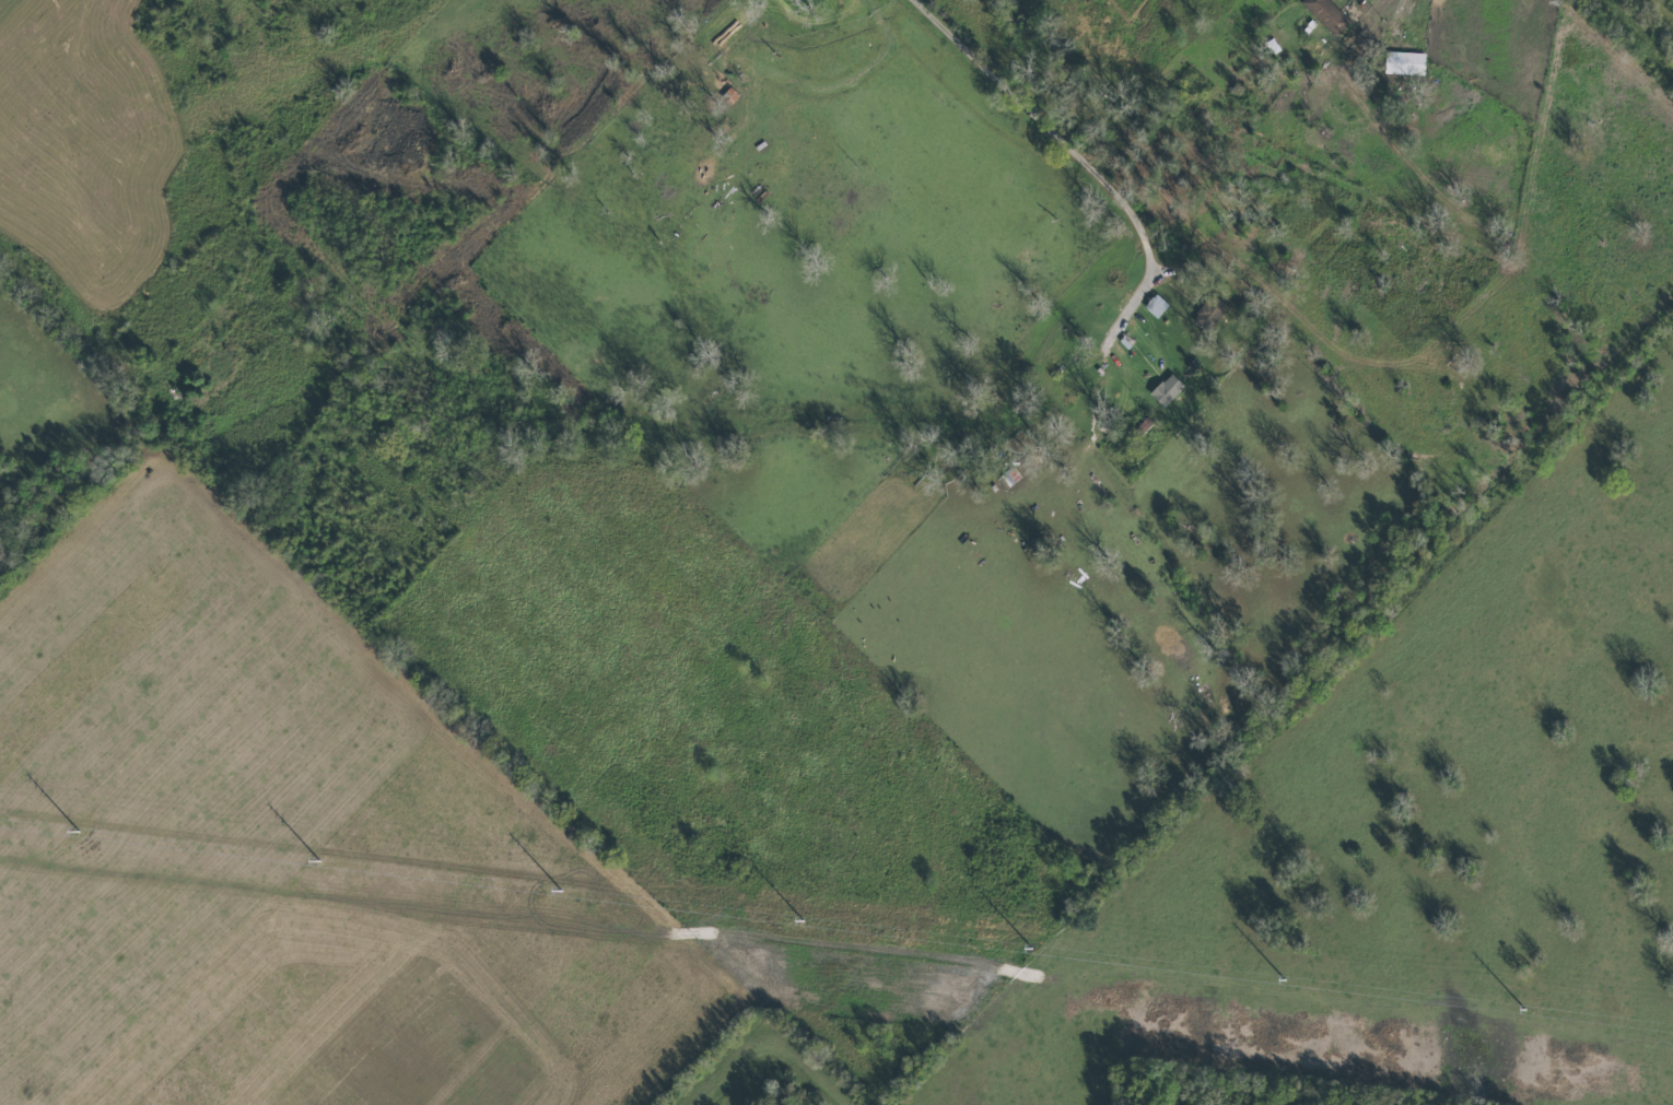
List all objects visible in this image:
road: (1397, 11)
building: (1404, 62)
road: (976, 80)
road: (254, 270)
road: (1128, 295)
building: (1155, 306)
building: (1212, 308)
building: (1166, 389)

